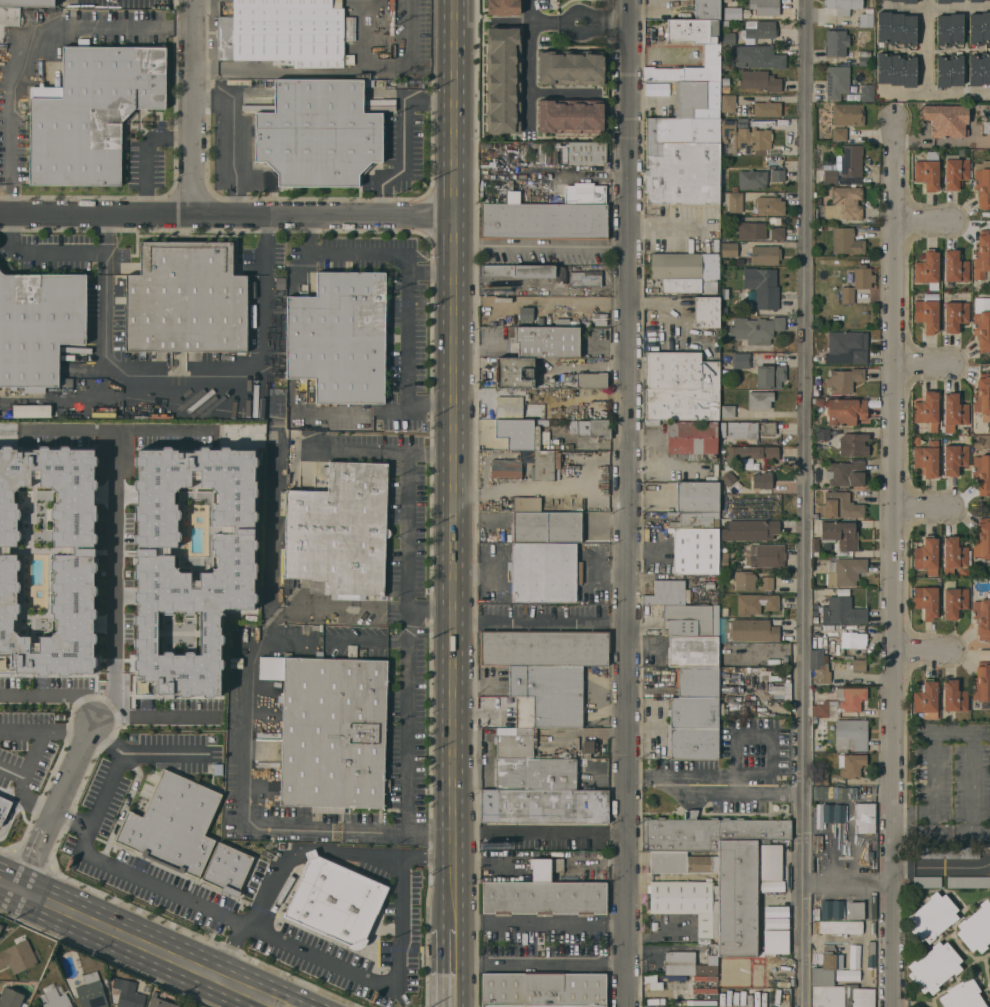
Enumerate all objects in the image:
building: (727, 1)
building: (906, 1)
building: (946, 1)
building: (975, 1)
building: (27, 2)
building: (843, 6)
building: (501, 7)
building: (765, 7)
building: (707, 9)
road: (631, 10)
road: (566, 13)
building: (733, 13)
building: (9, 16)
road: (65, 17)
road: (611, 17)
road: (532, 18)
building: (866, 18)
building: (896, 28)
building: (979, 28)
building: (949, 29)
building: (762, 30)
building: (286, 32)
road: (98, 33)
road: (588, 33)
building: (727, 41)
building: (836, 42)
road: (926, 46)
building: (712, 55)
building: (758, 56)
building: (865, 58)
building: (569, 69)
building: (896, 69)
building: (979, 69)
building: (949, 70)
road: (313, 72)
road: (532, 73)
building: (501, 80)
building: (760, 80)
building: (837, 81)
building: (725, 82)
building: (725, 90)
building: (866, 92)
road: (934, 92)
building: (728, 103)
building: (253, 104)
road: (194, 105)
road: (453, 108)
building: (767, 108)
building: (91, 112)
building: (847, 114)
building: (569, 117)
building: (946, 120)
building: (763, 123)
building: (986, 127)
building: (727, 129)
building: (318, 133)
building: (838, 134)
road: (233, 137)
road: (12, 138)
road: (403, 138)
building: (753, 139)
building: (685, 147)
building: (726, 150)
road: (145, 151)
building: (586, 152)
building: (851, 160)
building: (955, 171)
building: (927, 172)
building: (778, 175)
building: (830, 176)
building: (735, 179)
building: (752, 179)
building: (723, 183)
building: (982, 187)
building: (583, 194)
building: (513, 197)
building: (735, 200)
building: (842, 204)
building: (769, 206)
road: (226, 212)
road: (923, 219)
building: (544, 221)
road: (671, 224)
building: (751, 230)
building: (777, 233)
building: (846, 241)
building: (715, 244)
road: (541, 246)
road: (43, 250)
building: (729, 250)
building: (765, 255)
building: (982, 255)
building: (739, 262)
building: (955, 267)
building: (927, 268)
building: (518, 270)
building: (685, 272)
building: (586, 278)
building: (857, 283)
building: (762, 287)
building: (724, 293)
building: (186, 299)
road: (542, 301)
building: (723, 311)
building: (706, 312)
building: (927, 312)
building: (526, 313)
road: (407, 315)
building: (955, 315)
building: (982, 323)
building: (39, 326)
building: (756, 329)
building: (652, 333)
building: (706, 333)
building: (339, 337)
building: (547, 341)
building: (847, 347)
building: (741, 360)
road: (922, 363)
building: (514, 372)
building: (769, 376)
building: (591, 380)
building: (843, 380)
building: (680, 386)
building: (983, 396)
road: (184, 398)
building: (760, 400)
road: (74, 401)
building: (509, 406)
building: (926, 410)
building: (728, 411)
building: (845, 411)
building: (954, 412)
building: (757, 416)
building: (652, 422)
building: (594, 428)
road: (116, 429)
building: (988, 429)
building: (744, 430)
building: (515, 433)
building: (536, 437)
building: (691, 437)
building: (822, 438)
building: (776, 441)
building: (854, 444)
road: (431, 450)
building: (745, 451)
building: (771, 453)
building: (927, 458)
building: (954, 458)
road: (594, 460)
building: (543, 465)
building: (757, 466)
building: (506, 470)
building: (711, 472)
building: (982, 473)
building: (846, 474)
building: (728, 480)
building: (761, 480)
road: (543, 487)
building: (721, 491)
building: (696, 496)
road: (809, 503)
building: (840, 505)
road: (922, 509)
road: (629, 513)
building: (698, 519)
road: (407, 520)
building: (546, 527)
building: (749, 529)
building: (339, 530)
road: (270, 534)
building: (839, 534)
building: (982, 539)
road: (113, 549)
building: (695, 550)
building: (765, 555)
building: (926, 555)
building: (955, 557)
building: (722, 559)
building: (180, 564)
building: (45, 565)
road: (893, 565)
road: (454, 571)
building: (845, 571)
building: (544, 572)
building: (744, 580)
building: (766, 583)
building: (709, 586)
building: (667, 593)
building: (926, 601)
building: (954, 601)
building: (755, 603)
road: (320, 605)
building: (842, 611)
building: (982, 618)
building: (688, 620)
road: (467, 624)
road: (554, 625)
building: (751, 630)
building: (817, 641)
building: (544, 648)
building: (692, 650)
road: (921, 650)
building: (839, 652)
building: (728, 654)
building: (761, 676)
building: (697, 680)
building: (982, 682)
building: (549, 693)
road: (55, 695)
building: (954, 696)
building: (926, 699)
road: (112, 700)
building: (840, 703)
building: (522, 711)
road: (152, 716)
road: (45, 728)
building: (693, 728)
building: (819, 731)
building: (333, 733)
building: (850, 735)
building: (514, 744)
road: (405, 746)
road: (971, 747)
building: (588, 748)
parking lot: (28, 750)
road: (35, 753)
road: (161, 754)
building: (850, 764)
building: (596, 766)
road: (113, 770)
building: (510, 773)
building: (551, 773)
building: (821, 778)
road: (21, 791)
road: (758, 791)
building: (2, 804)
road: (125, 805)
building: (544, 805)
road: (55, 806)
road: (11, 814)
road: (246, 814)
building: (819, 815)
building: (864, 818)
building: (173, 824)
building: (753, 829)
building: (680, 833)
road: (540, 836)
building: (817, 842)
building: (832, 849)
road: (304, 850)
building: (946, 852)
building: (815, 863)
road: (940, 867)
building: (543, 868)
building: (227, 869)
road: (848, 879)
building: (926, 881)
building: (968, 881)
road: (10, 884)
building: (684, 888)
building: (745, 891)
building: (544, 897)
building: (327, 901)
building: (874, 907)
building: (832, 909)
building: (855, 910)
building: (776, 912)
building: (816, 914)
building: (931, 917)
building: (0, 923)
building: (776, 923)
road: (559, 925)
building: (0, 926)
building: (840, 927)
building: (976, 928)
building: (872, 929)
building: (775, 942)
road: (144, 943)
road: (294, 946)
building: (872, 947)
road: (230, 950)
building: (17, 956)
building: (854, 960)
building: (839, 962)
building: (871, 962)
building: (989, 962)
building: (679, 963)
road: (541, 964)
building: (989, 964)
road: (455, 967)
building: (934, 967)
building: (824, 970)
building: (847, 975)
building: (679, 978)
building: (652, 981)
building: (681, 986)
building: (48, 987)
building: (543, 988)
building: (60, 989)
building: (145, 989)
building: (91, 991)
building: (126, 993)
building: (962, 995)
building: (770, 996)
building: (842, 996)
building: (10, 997)
building: (43, 997)
building: (721, 997)
building: (728, 997)
building: (778, 997)
road: (297, 998)
building: (735, 998)
building: (748, 998)
building: (56, 999)
building: (756, 999)
building: (160, 1002)
building: (652, 1002)
road: (271, 1003)
building: (544, 1006)

